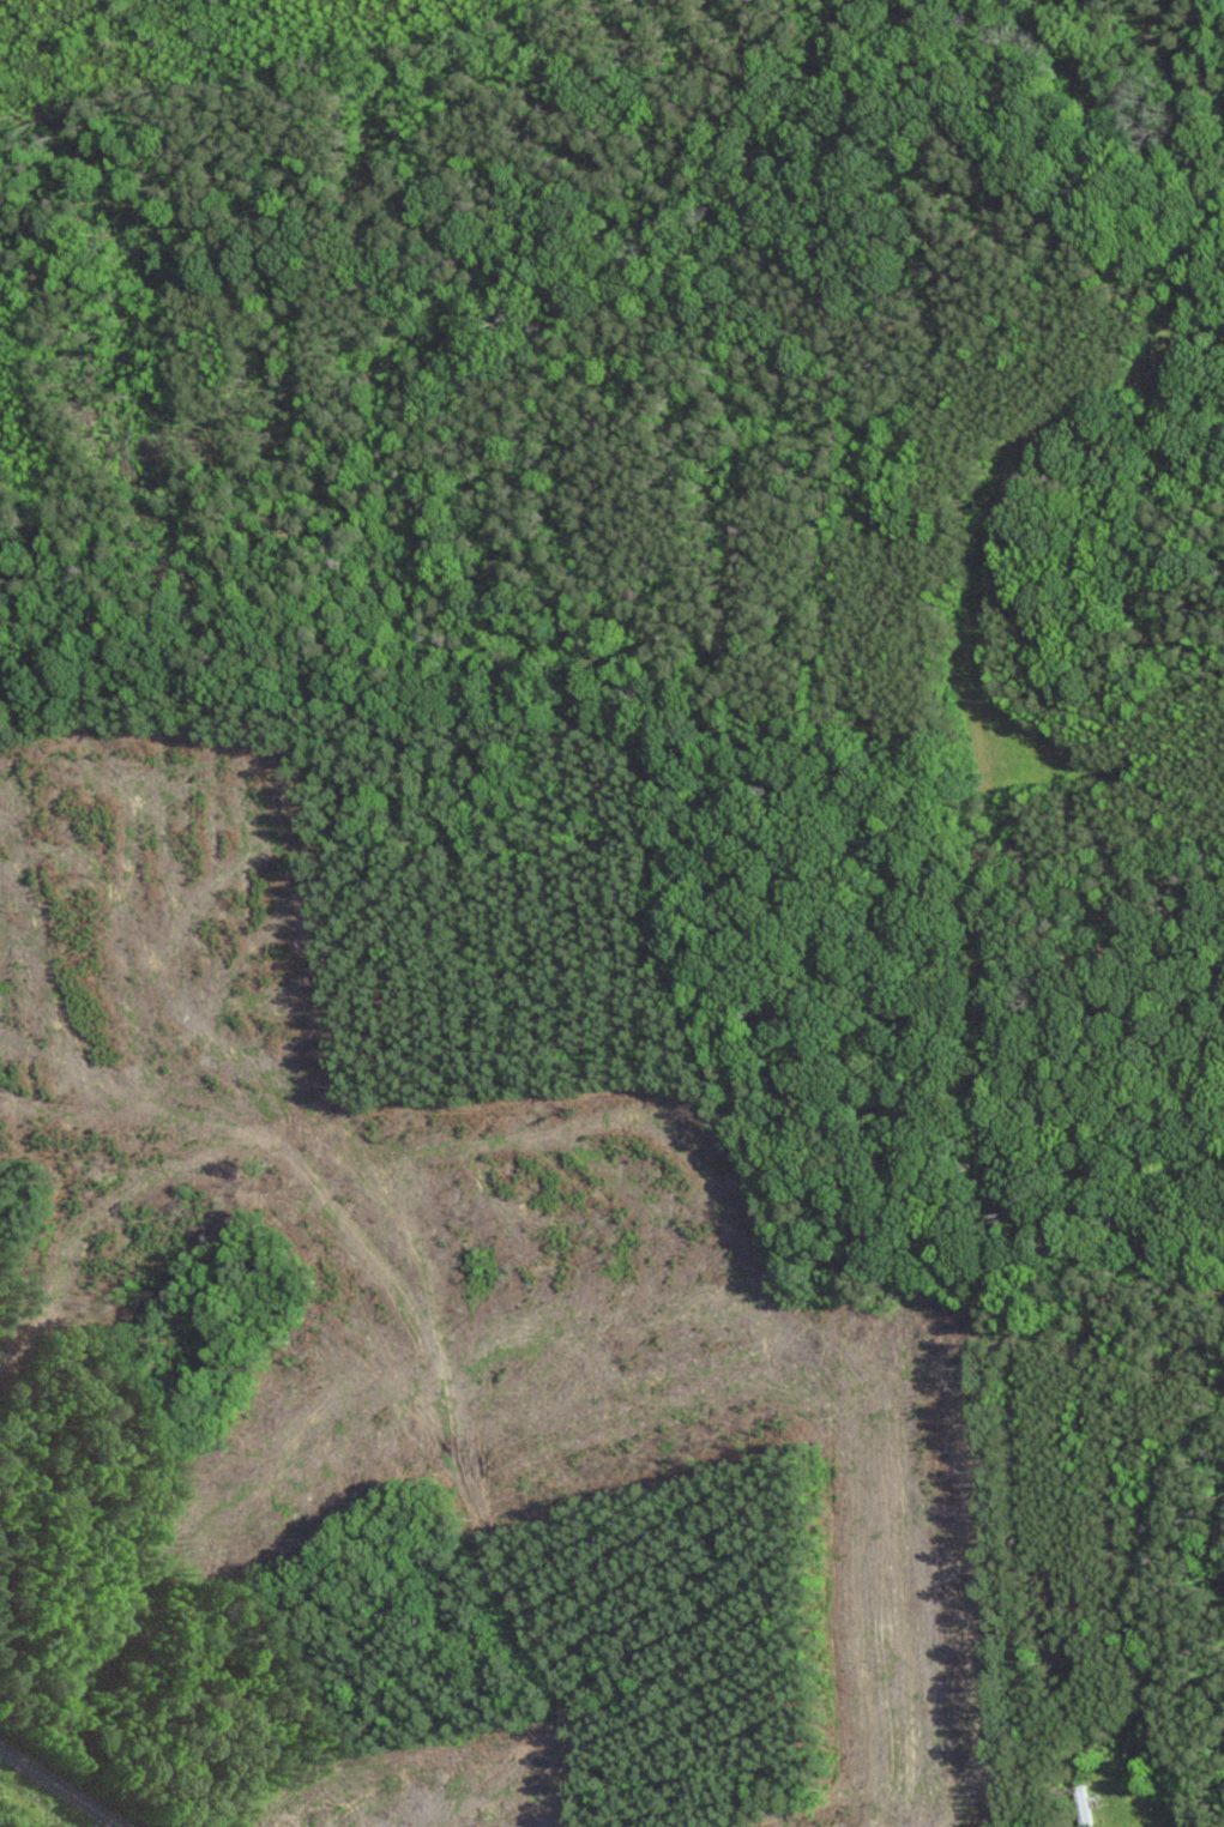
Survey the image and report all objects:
road: (62, 1786)

